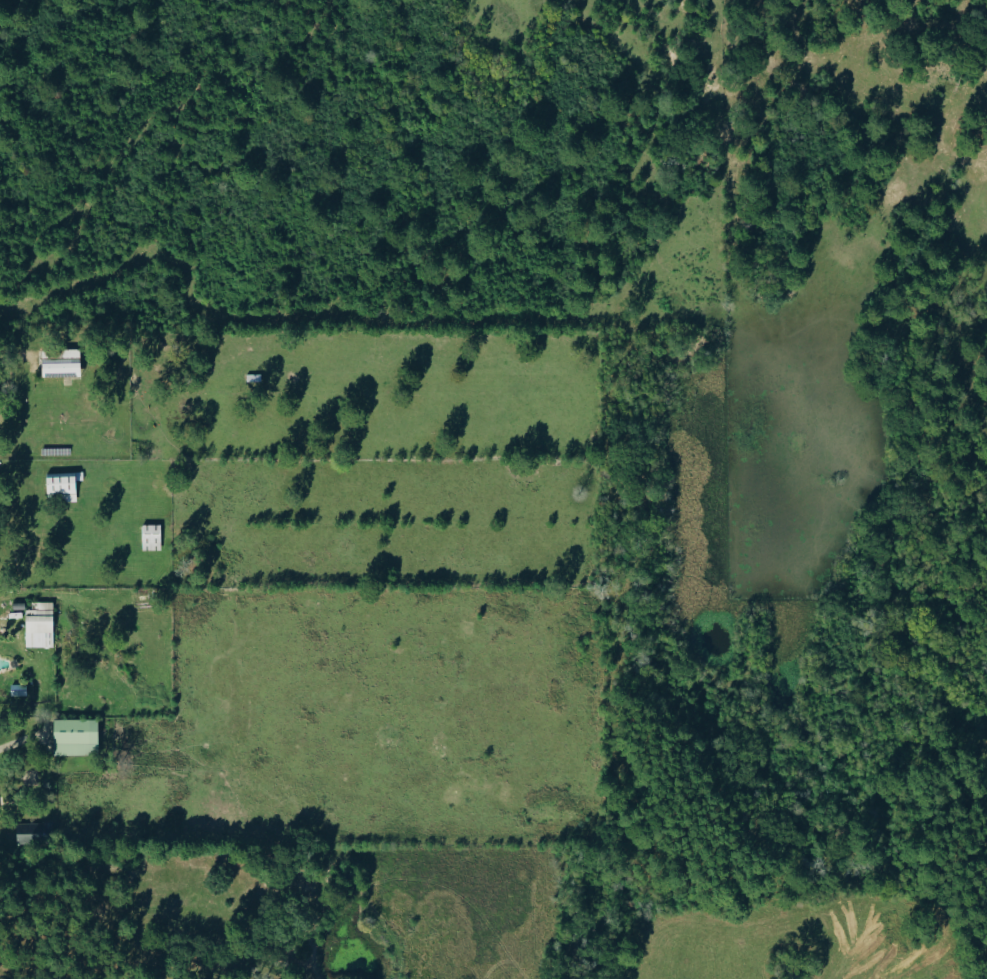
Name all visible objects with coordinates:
building: (62, 364)
building: (61, 488)
building: (40, 624)
building: (76, 736)
building: (36, 832)

